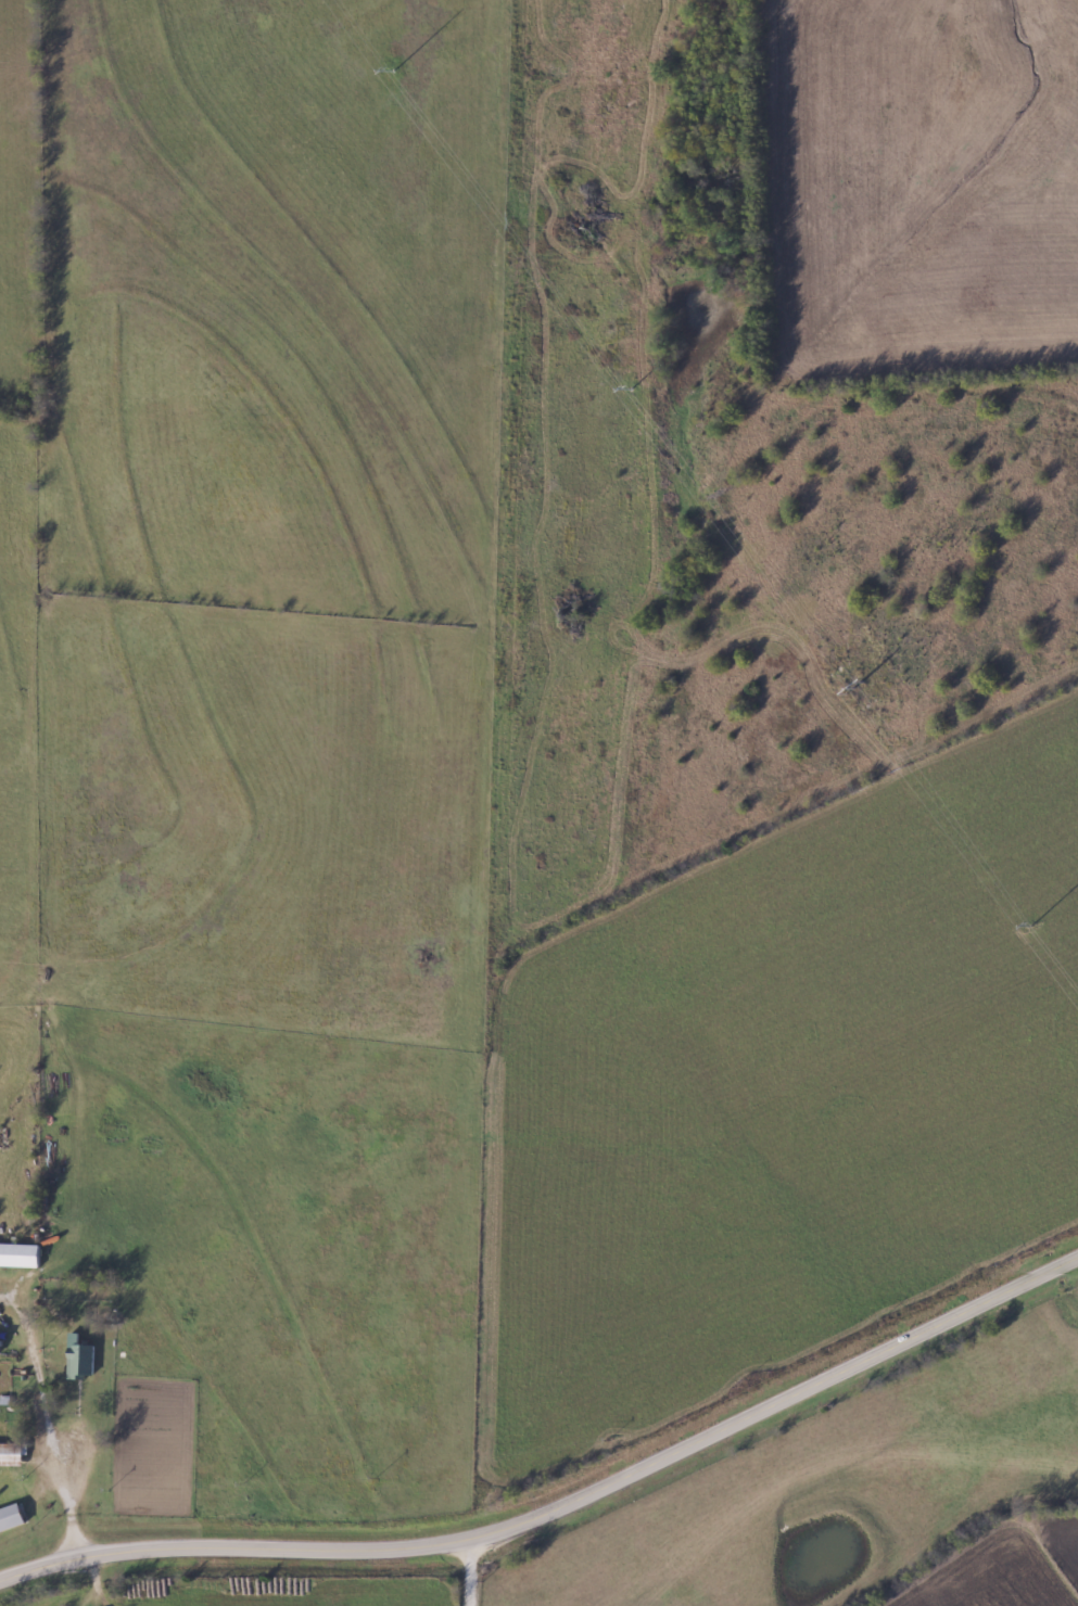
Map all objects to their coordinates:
building: (20, 1258)
building: (80, 1363)
road: (45, 1430)
building: (11, 1456)
road: (562, 1508)
building: (11, 1520)
road: (464, 1572)
road: (92, 1582)

